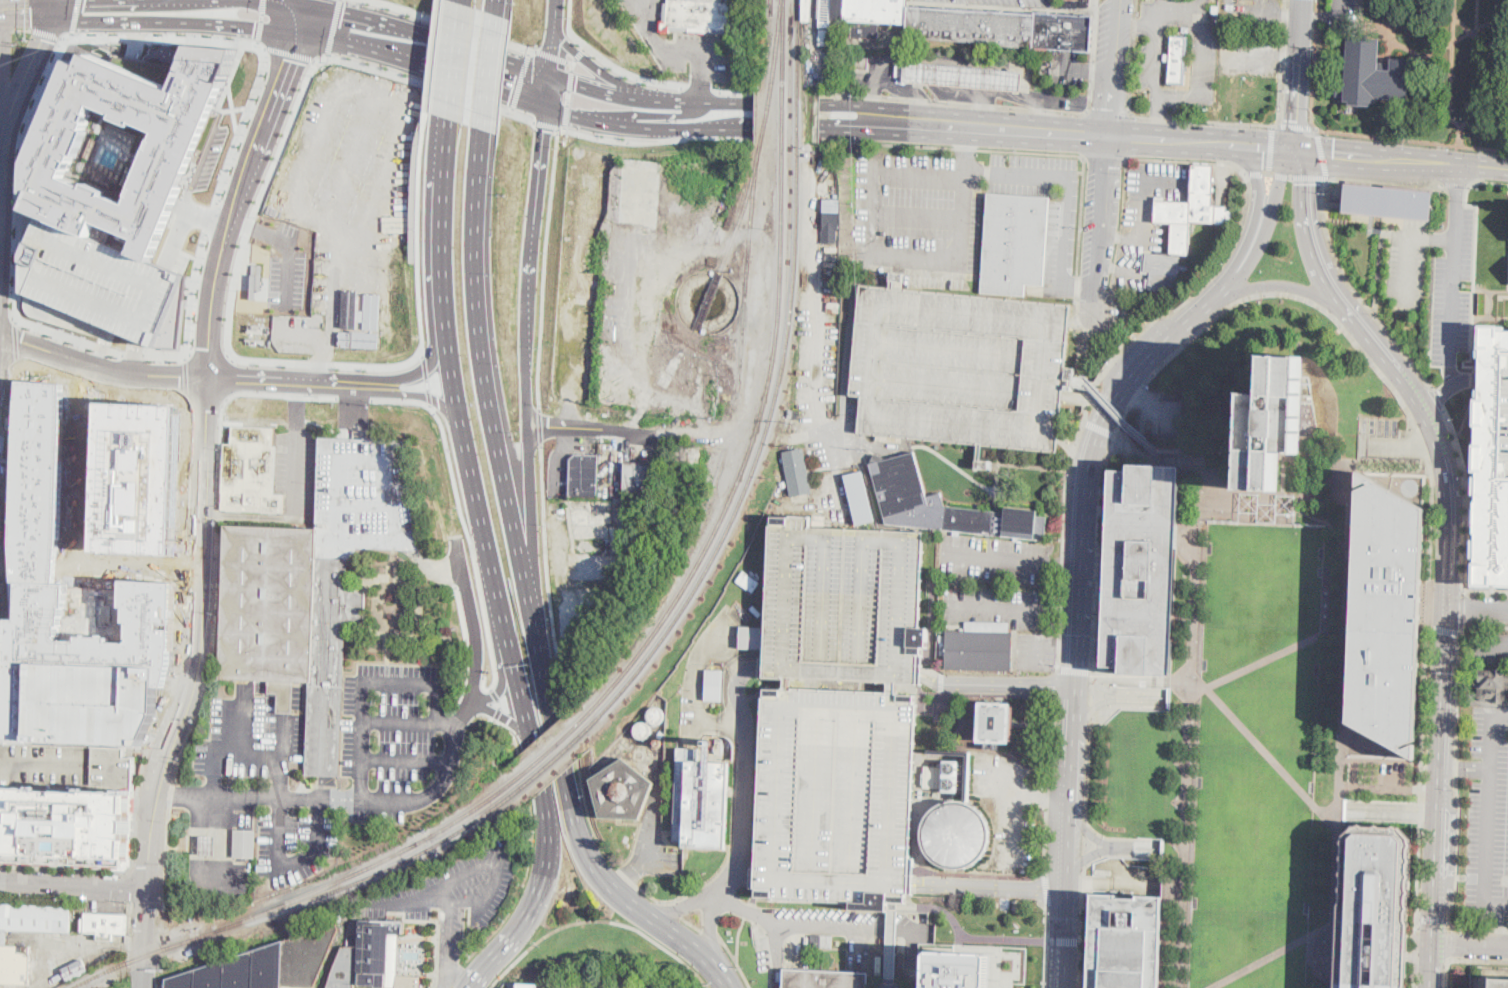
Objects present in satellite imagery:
road: (301, 1)
parking lot: (1012, 2)
road: (55, 4)
road: (64, 4)
road: (496, 6)
parking lot: (641, 7)
railway: (772, 7)
building: (1216, 7)
road: (28, 10)
traffic signals: (30, 10)
building: (806, 10)
road: (1, 11)
parking lot: (1254, 11)
road: (1254, 11)
traffic signals: (344, 12)
road: (1290, 12)
building: (825, 13)
road: (1324, 13)
road: (35, 14)
road: (73, 16)
building: (697, 16)
road: (260, 20)
road: (451, 24)
building: (968, 24)
traffic signals: (255, 28)
road: (7, 29)
road: (22, 29)
road: (331, 29)
parking lot: (1101, 30)
road: (415, 31)
road: (45, 33)
road: (162, 34)
railway: (777, 34)
railway: (783, 34)
railway: (798, 34)
building: (825, 36)
traffic signals: (43, 40)
road: (137, 46)
road: (552, 46)
road: (294, 52)
road: (579, 52)
road: (676, 53)
road: (435, 55)
road: (550, 55)
parking lot: (1248, 55)
road: (1251, 55)
road: (1091, 56)
road: (449, 57)
parking lot: (696, 57)
road: (1288, 57)
road: (1132, 58)
traffic signals: (290, 60)
building: (1175, 60)
road: (1281, 62)
building: (863, 63)
road: (589, 64)
road: (1315, 64)
road: (1072, 68)
building: (900, 69)
parking lot: (1068, 69)
road: (489, 70)
road: (1099, 70)
road: (1111, 70)
road: (26, 75)
building: (962, 75)
building: (1372, 75)
road: (1297, 76)
road: (1, 77)
road: (519, 78)
road: (470, 81)
road: (430, 83)
traffic signals: (576, 85)
road: (806, 92)
road: (603, 93)
traffic signals: (510, 94)
road: (568, 94)
road: (681, 101)
road: (797, 102)
railway: (767, 107)
railway: (782, 109)
railway: (798, 109)
road: (1109, 114)
road: (661, 115)
road: (1205, 120)
traffic signals: (1295, 120)
road: (546, 123)
road: (1296, 126)
road: (318, 132)
traffic signals: (544, 132)
road: (1059, 136)
road: (755, 137)
road: (1411, 139)
road: (964, 143)
road: (964, 148)
road: (1270, 148)
road: (1262, 150)
road: (1029, 151)
traffic signals: (1264, 151)
road: (1322, 152)
building: (173, 153)
traffic signals: (1333, 156)
road: (1104, 157)
road: (1400, 161)
road: (1256, 173)
road: (1299, 176)
road: (1387, 181)
traffic signals: (1305, 182)
road: (537, 183)
road: (1257, 183)
road: (1453, 183)
road: (1068, 184)
road: (242, 187)
building: (640, 190)
road: (1277, 191)
building: (1388, 202)
road: (1325, 205)
railway: (743, 209)
road: (3, 211)
building: (1192, 211)
parking lot: (916, 212)
road: (202, 214)
road: (1080, 215)
parking lot: (1147, 216)
road: (917, 217)
road: (19, 218)
road: (1146, 218)
parking lot: (1089, 222)
parking lot: (1112, 224)
building: (831, 226)
road: (1475, 227)
road: (437, 228)
road: (1100, 231)
road: (420, 232)
road: (1310, 234)
parking lot: (1062, 240)
road: (1118, 240)
building: (1015, 245)
road: (1411, 249)
road: (882, 254)
road: (1240, 263)
road: (544, 266)
road: (1116, 267)
building: (1162, 271)
road: (1453, 275)
parking lot: (1436, 278)
building: (101, 285)
parking garage: (101, 285)
railway: (746, 285)
road: (1084, 285)
road: (1283, 285)
road: (1352, 289)
road: (1490, 290)
railway: (740, 303)
building: (349, 308)
building: (834, 308)
parking lot: (1107, 308)
road: (1489, 310)
road: (8, 317)
road: (1084, 318)
building: (365, 325)
road: (1129, 343)
road: (105, 344)
road: (1081, 346)
road: (133, 352)
road: (1470, 356)
road: (527, 357)
parking lot: (820, 361)
road: (103, 363)
building: (962, 367)
parking lot: (962, 367)
road: (1135, 367)
road: (1474, 368)
road: (416, 369)
road: (1474, 378)
road: (280, 380)
road: (428, 380)
road: (363, 383)
road: (1389, 384)
road: (1450, 387)
road: (420, 392)
road: (1437, 397)
road: (1467, 412)
building: (796, 414)
building: (1504, 415)
parking garage: (1504, 415)
road: (1120, 417)
building: (1272, 424)
road: (539, 425)
building: (793, 426)
road: (1098, 426)
road: (495, 427)
road: (597, 427)
road: (295, 446)
railway: (748, 452)
road: (1159, 454)
railway: (757, 457)
building: (45, 458)
building: (984, 463)
road: (1011, 464)
building: (1491, 465)
road: (953, 466)
building: (251, 472)
building: (797, 472)
parking lot: (298, 473)
building: (583, 475)
building: (138, 478)
building: (639, 479)
building: (784, 485)
building: (364, 493)
parking garage: (364, 493)
road: (1467, 497)
building: (860, 498)
building: (943, 506)
road: (5, 510)
road: (530, 526)
road: (998, 557)
road: (1067, 565)
building: (1142, 570)
road: (100, 576)
road: (494, 581)
parking lot: (996, 581)
building: (748, 582)
road: (473, 583)
road: (1486, 592)
building: (849, 603)
parking lot: (849, 603)
road: (997, 606)
road: (1065, 607)
road: (1463, 609)
road: (1477, 609)
building: (756, 610)
road: (1446, 610)
building: (1387, 616)
building: (69, 622)
road: (475, 624)
building: (290, 625)
road: (181, 626)
road: (1485, 627)
road: (1445, 630)
road: (199, 638)
building: (751, 638)
road: (1491, 645)
parking lot: (1489, 646)
building: (981, 647)
road: (1056, 647)
parking lot: (1035, 650)
road: (1035, 652)
road: (1265, 660)
road: (559, 661)
road: (1073, 669)
traffic signals: (1444, 671)
road: (399, 675)
road: (1075, 676)
road: (1189, 678)
building: (713, 683)
road: (999, 683)
road: (1055, 683)
road: (1338, 685)
building: (1493, 686)
road: (503, 687)
road: (1116, 690)
road: (1090, 694)
road: (1115, 698)
building: (90, 701)
parking garage: (90, 701)
road: (475, 702)
road: (507, 718)
building: (995, 723)
road: (449, 724)
parking lot: (394, 727)
road: (1491, 732)
road: (281, 733)
parking lot: (251, 738)
building: (719, 746)
road: (1261, 748)
road: (253, 751)
road: (214, 753)
railway: (546, 753)
parking lot: (1254, 757)
railway: (551, 760)
road: (406, 763)
road: (1453, 766)
road: (1478, 767)
road: (1087, 769)
road: (564, 771)
road: (745, 773)
building: (933, 776)
road: (1014, 776)
road: (1455, 776)
road: (1046, 783)
road: (214, 785)
building: (622, 791)
building: (841, 794)
parking lot: (841, 794)
road: (1055, 794)
road: (345, 799)
building: (700, 801)
building: (65, 802)
parking garage: (65, 802)
parking lot: (345, 803)
parking lot: (1010, 808)
road: (1393, 810)
road: (1016, 814)
parking lot: (1486, 815)
road: (652, 817)
parking lot: (653, 823)
road: (1088, 829)
building: (958, 833)
road: (1084, 843)
building: (207, 844)
building: (244, 844)
parking lot: (295, 845)
road: (1487, 846)
road: (1136, 847)
road: (1085, 858)
railway: (381, 859)
road: (292, 864)
road: (64, 867)
road: (528, 869)
road: (463, 876)
parking lot: (474, 876)
road: (625, 877)
road: (627, 878)
road: (700, 884)
road: (992, 887)
road: (73, 888)
road: (1045, 889)
road: (485, 891)
road: (649, 893)
road: (753, 894)
railway: (293, 905)
road: (414, 906)
road: (685, 907)
road: (670, 909)
building: (1374, 909)
road: (748, 910)
road: (643, 911)
road: (528, 912)
road: (1432, 918)
road: (599, 922)
road: (795, 922)
road: (691, 923)
road: (1506, 924)
road: (1479, 925)
road: (710, 926)
road: (1080, 927)
building: (411, 929)
road: (469, 933)
road: (710, 933)
road: (737, 938)
road: (776, 938)
road: (1063, 938)
road: (143, 939)
parking lot: (916, 940)
road: (1062, 941)
road: (449, 942)
building: (821, 942)
building: (1126, 942)
road: (1450, 942)
road: (856, 943)
road: (1469, 945)
building: (9, 946)
road: (450, 947)
road: (1044, 947)
road: (891, 949)
building: (376, 950)
road: (1268, 955)
road: (735, 961)
road: (1478, 961)
road: (435, 962)
building: (267, 965)
road: (1431, 965)
building: (344, 969)
building: (75, 970)
building: (959, 970)
road: (1497, 972)
road: (1447, 974)
road: (459, 978)
building: (825, 979)
road: (1485, 980)
building: (1499, 983)
building: (527, 985)

